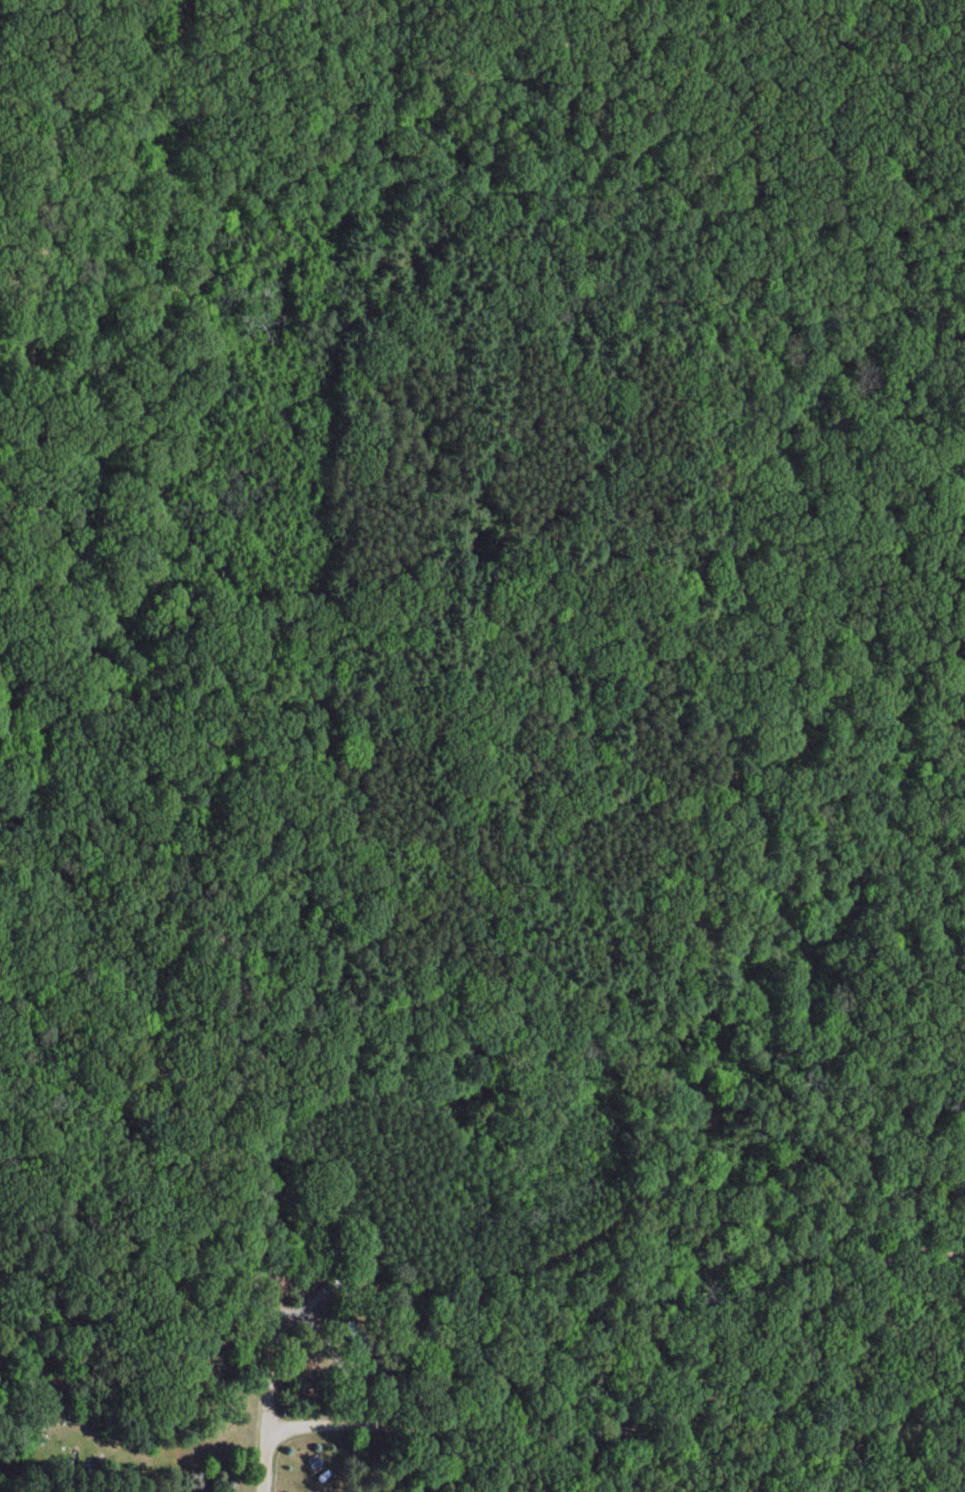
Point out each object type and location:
road: (86, 31)
road: (64, 608)
road: (268, 1338)
building: (204, 1351)
road: (641, 1415)

